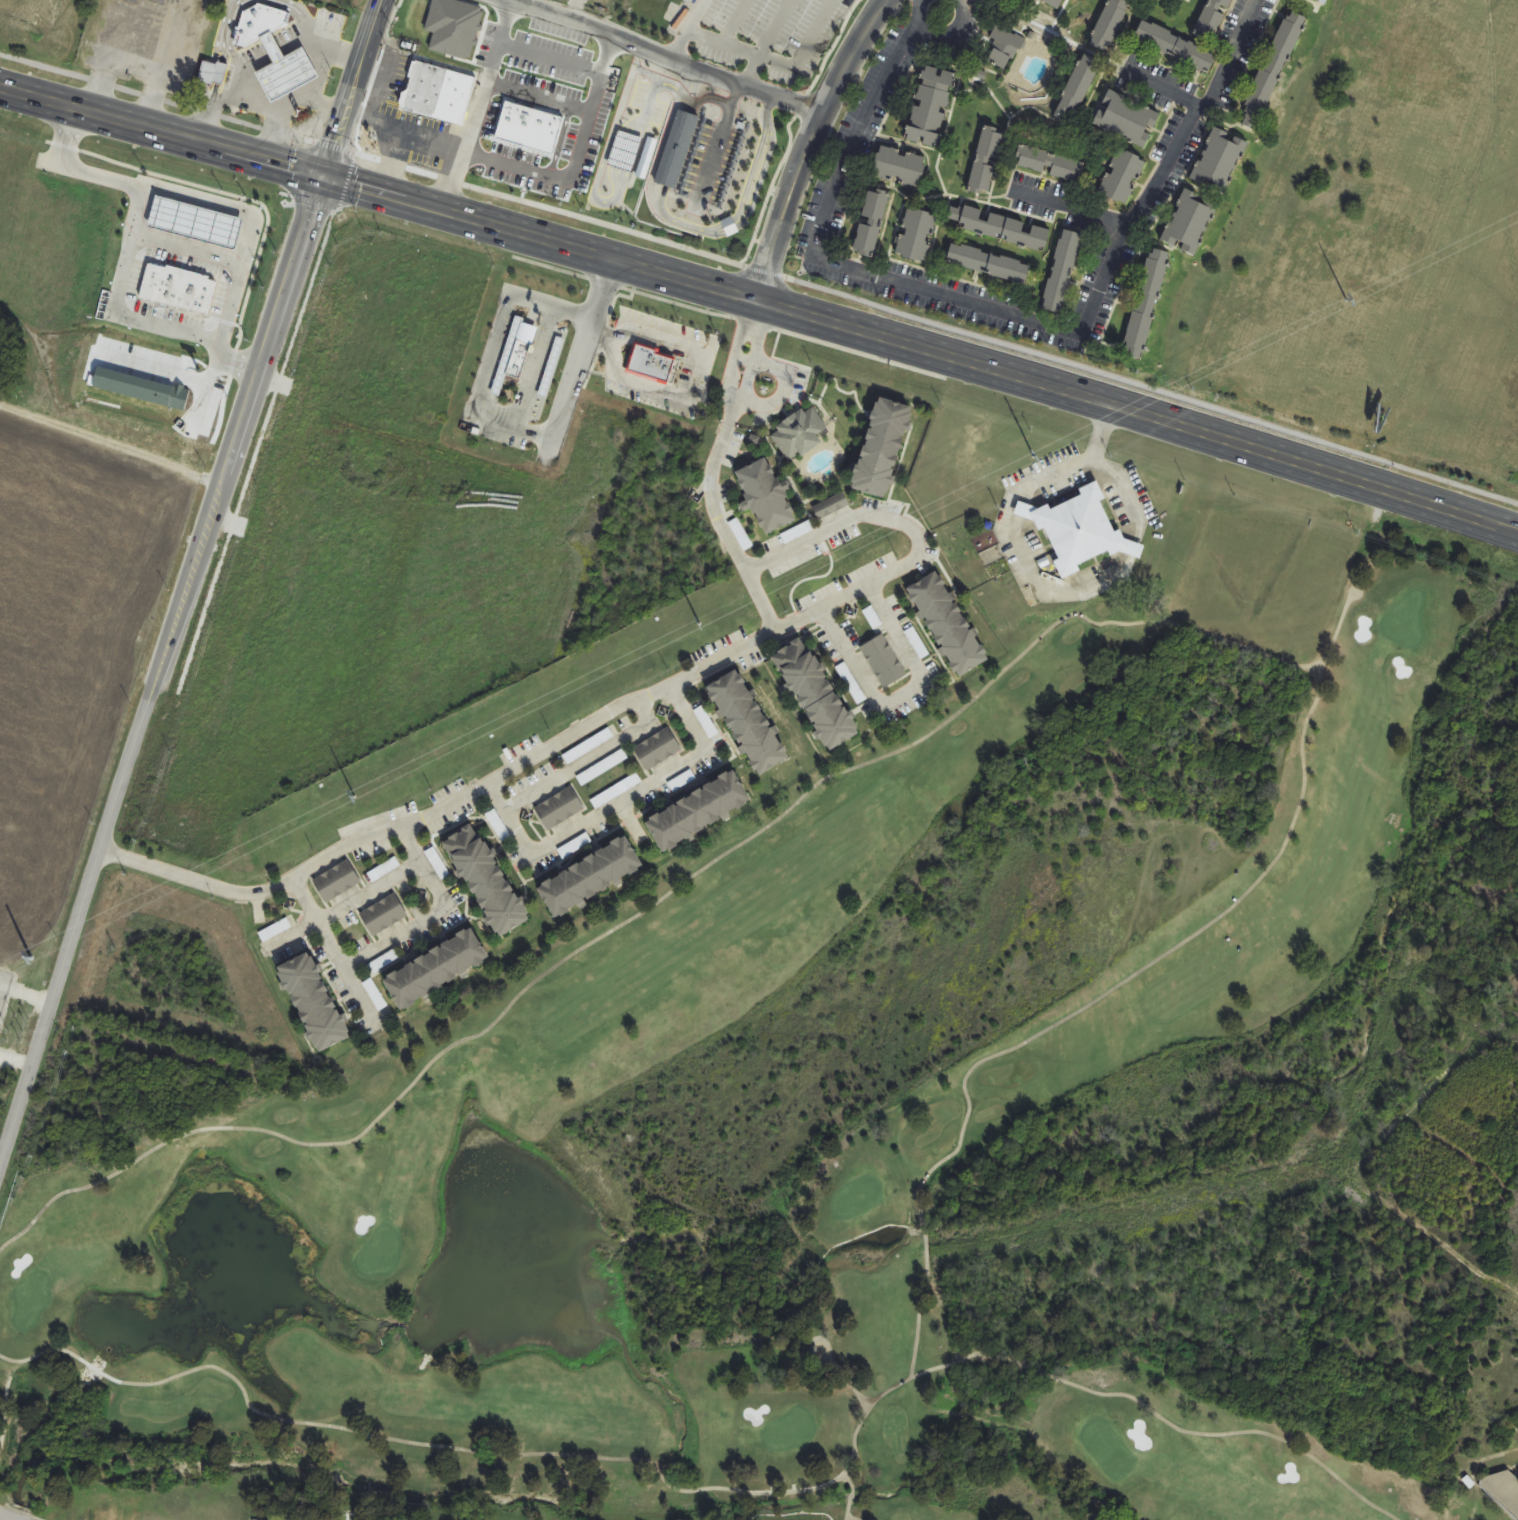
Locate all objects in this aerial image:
building: (134, 0)
building: (160, 1)
building: (1056, 2)
building: (1321, 2)
road: (302, 8)
building: (1214, 19)
road: (732, 20)
building: (1110, 24)
road: (683, 29)
road: (227, 38)
road: (500, 39)
road: (763, 42)
building: (1176, 47)
building: (1004, 49)
road: (276, 51)
building: (276, 52)
road: (666, 59)
road: (772, 60)
road: (598, 70)
building: (1272, 71)
road: (321, 77)
road: (351, 88)
road: (652, 88)
building: (1078, 89)
road: (1167, 91)
road: (367, 93)
building: (438, 93)
road: (734, 94)
road: (709, 96)
road: (253, 104)
road: (328, 107)
building: (931, 107)
road: (747, 108)
building: (1127, 120)
road: (381, 123)
road: (575, 141)
building: (494, 143)
road: (810, 145)
road: (675, 146)
road: (604, 149)
road: (622, 149)
road: (713, 152)
road: (757, 159)
building: (987, 161)
building: (1219, 161)
building: (1050, 164)
building: (900, 167)
building: (1122, 177)
traffic signals: (324, 178)
road: (221, 205)
road: (1077, 210)
road: (674, 221)
building: (872, 223)
building: (1189, 223)
road: (727, 224)
building: (997, 227)
building: (917, 236)
building: (989, 264)
road: (761, 269)
building: (1063, 272)
power tower: (1346, 300)
road: (761, 302)
building: (1146, 305)
road: (993, 312)
road: (130, 318)
road: (491, 350)
road: (582, 350)
building: (514, 353)
building: (1, 359)
road: (227, 361)
road: (749, 363)
building: (553, 364)
building: (647, 365)
road: (699, 371)
building: (801, 434)
building: (879, 451)
power tower: (1033, 455)
road: (1124, 493)
building: (766, 495)
road: (1003, 528)
building: (1080, 530)
road: (926, 533)
road: (1130, 547)
road: (1360, 587)
building: (946, 622)
power tower: (700, 624)
building: (883, 661)
road: (158, 668)
building: (816, 696)
road: (909, 700)
road: (633, 715)
building: (749, 725)
building: (589, 746)
building: (659, 749)
building: (603, 767)
building: (682, 781)
building: (616, 791)
power tower: (356, 797)
road: (625, 806)
building: (560, 808)
building: (698, 817)
building: (382, 871)
road: (190, 878)
building: (484, 879)
building: (337, 881)
building: (592, 881)
road: (678, 883)
road: (374, 888)
building: (384, 914)
road: (397, 944)
power tower: (30, 957)
building: (433, 970)
power substation: (5, 991)
building: (318, 1003)
road: (1019, 1042)
park: (773, 1123)
road: (1161, 1416)
road: (415, 1439)
road: (843, 1512)
road: (6, 1518)
road: (8, 1519)

